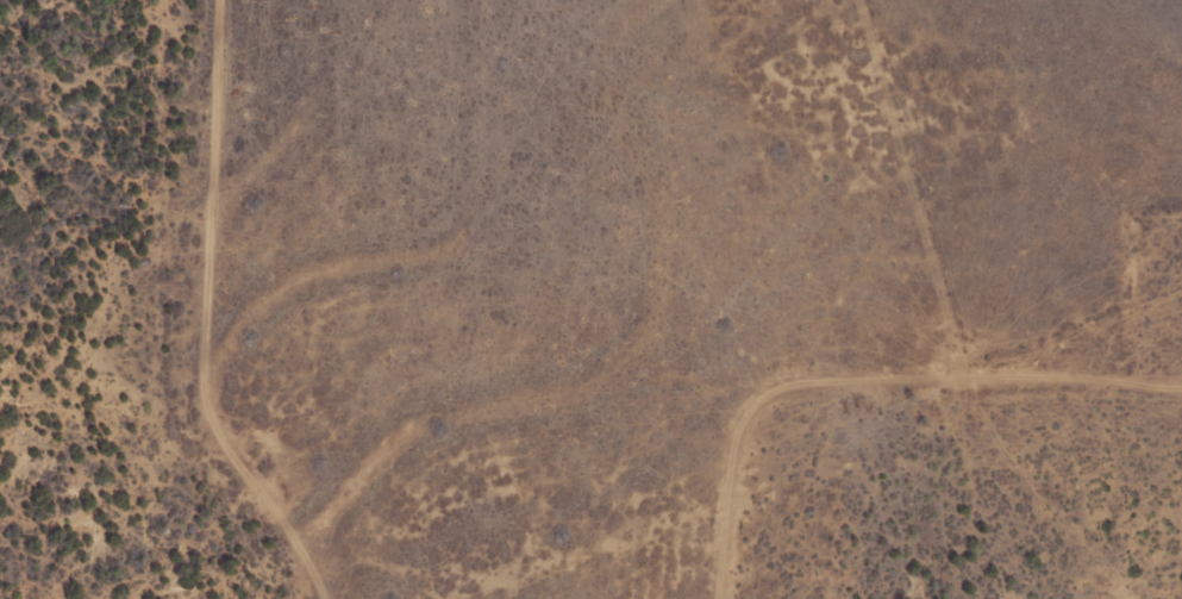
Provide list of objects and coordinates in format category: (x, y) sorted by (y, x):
road: (160, 317)
road: (850, 387)

